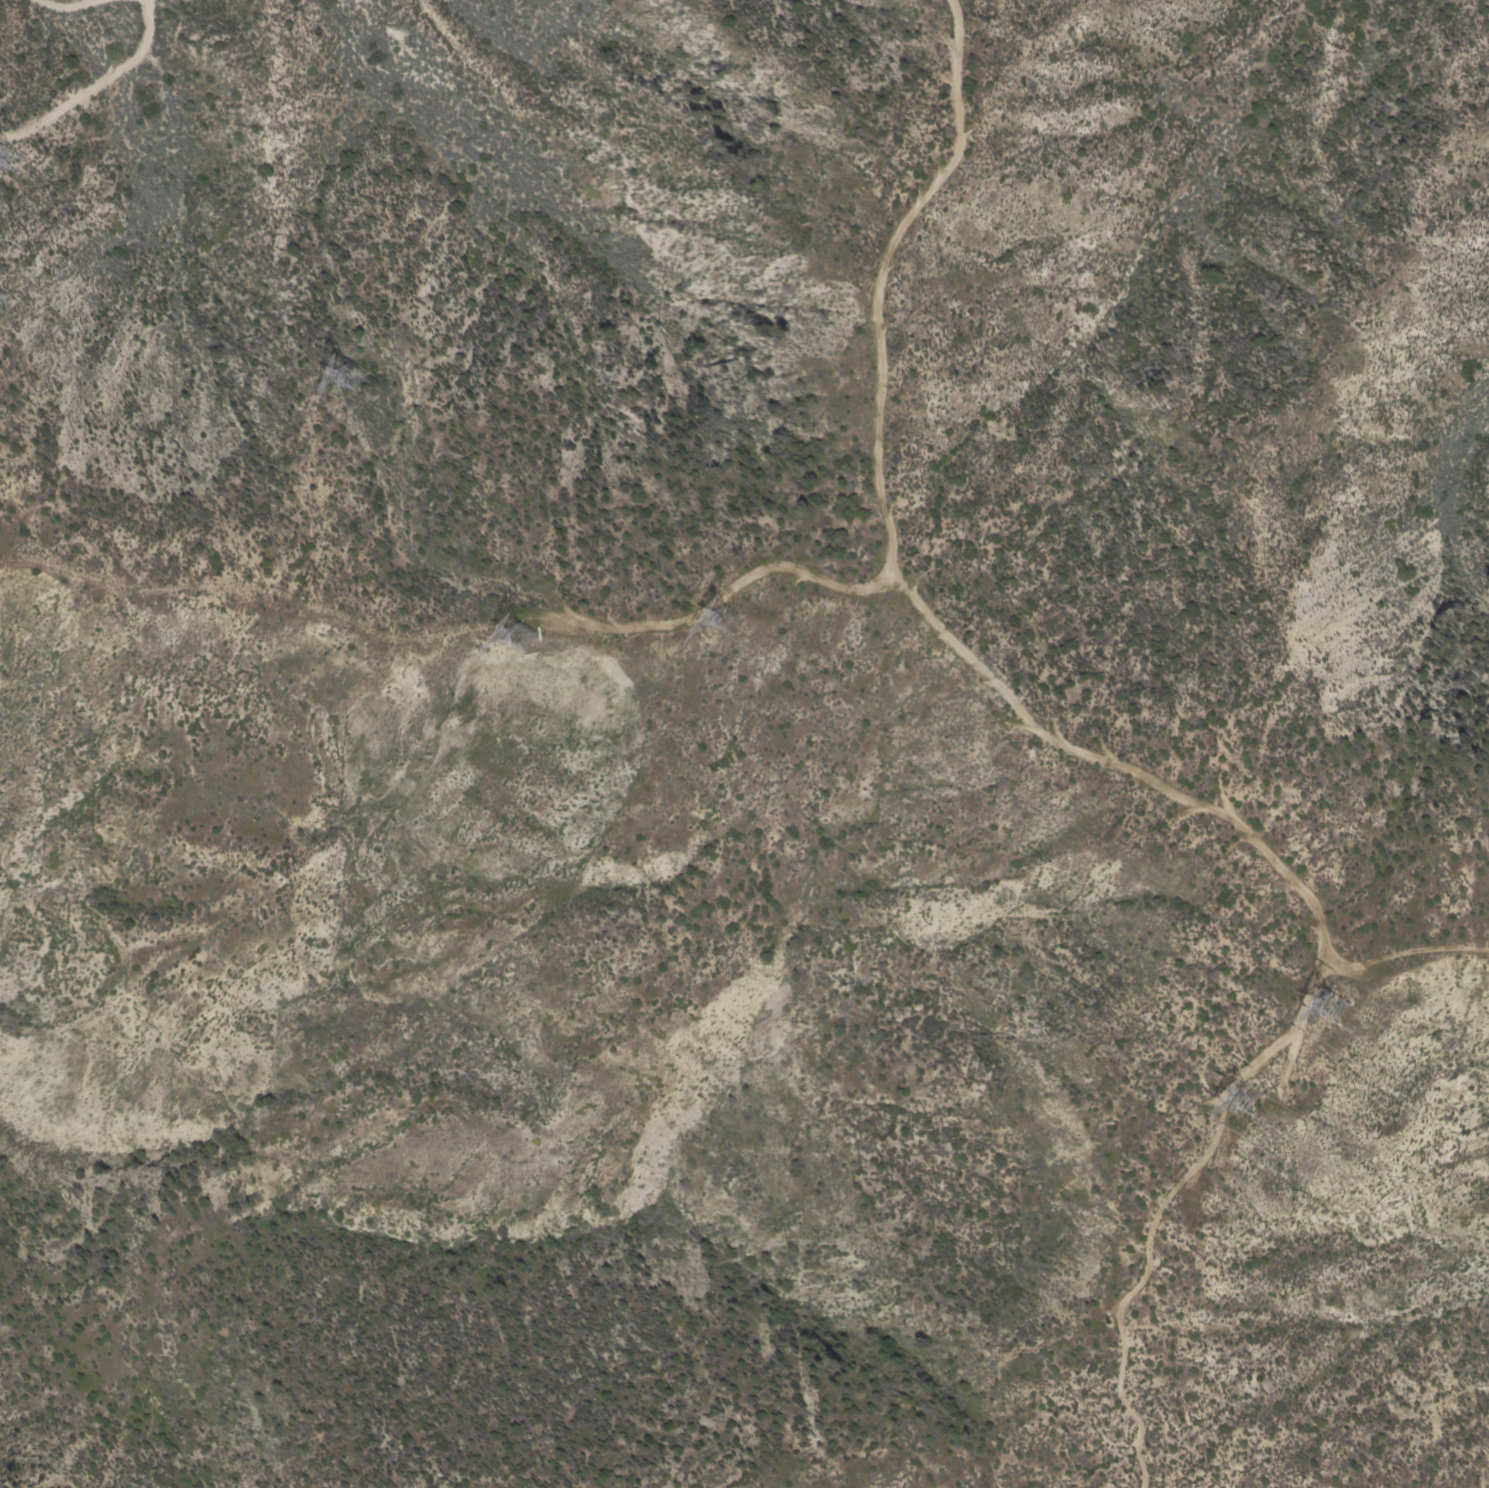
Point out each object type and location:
power tower: (9, 157)
power tower: (351, 375)
power tower: (736, 612)
power tower: (526, 635)
power tower: (1333, 999)
power tower: (1251, 1097)

